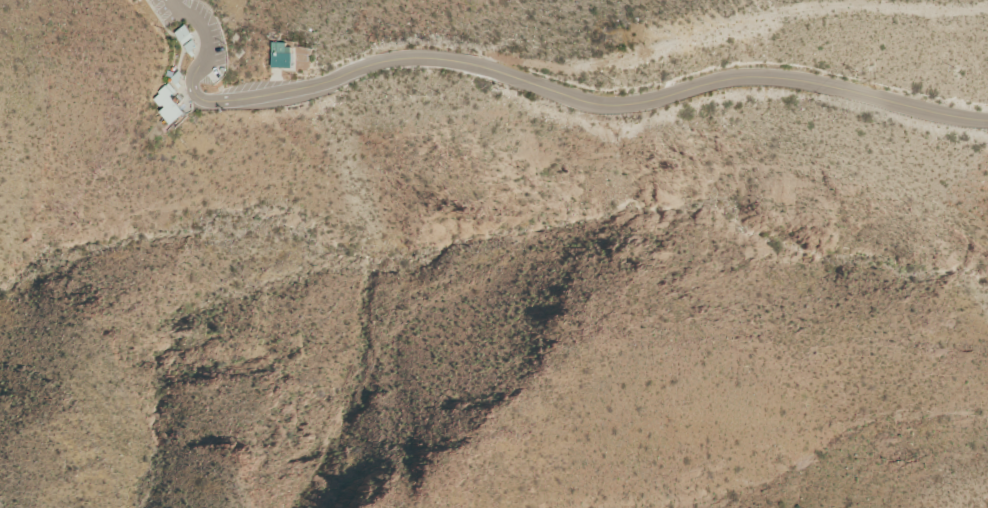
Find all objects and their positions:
building: (179, 32)
parking lot: (200, 34)
building: (187, 46)
road: (209, 48)
building: (279, 58)
building: (173, 77)
building: (169, 104)
road: (594, 104)

